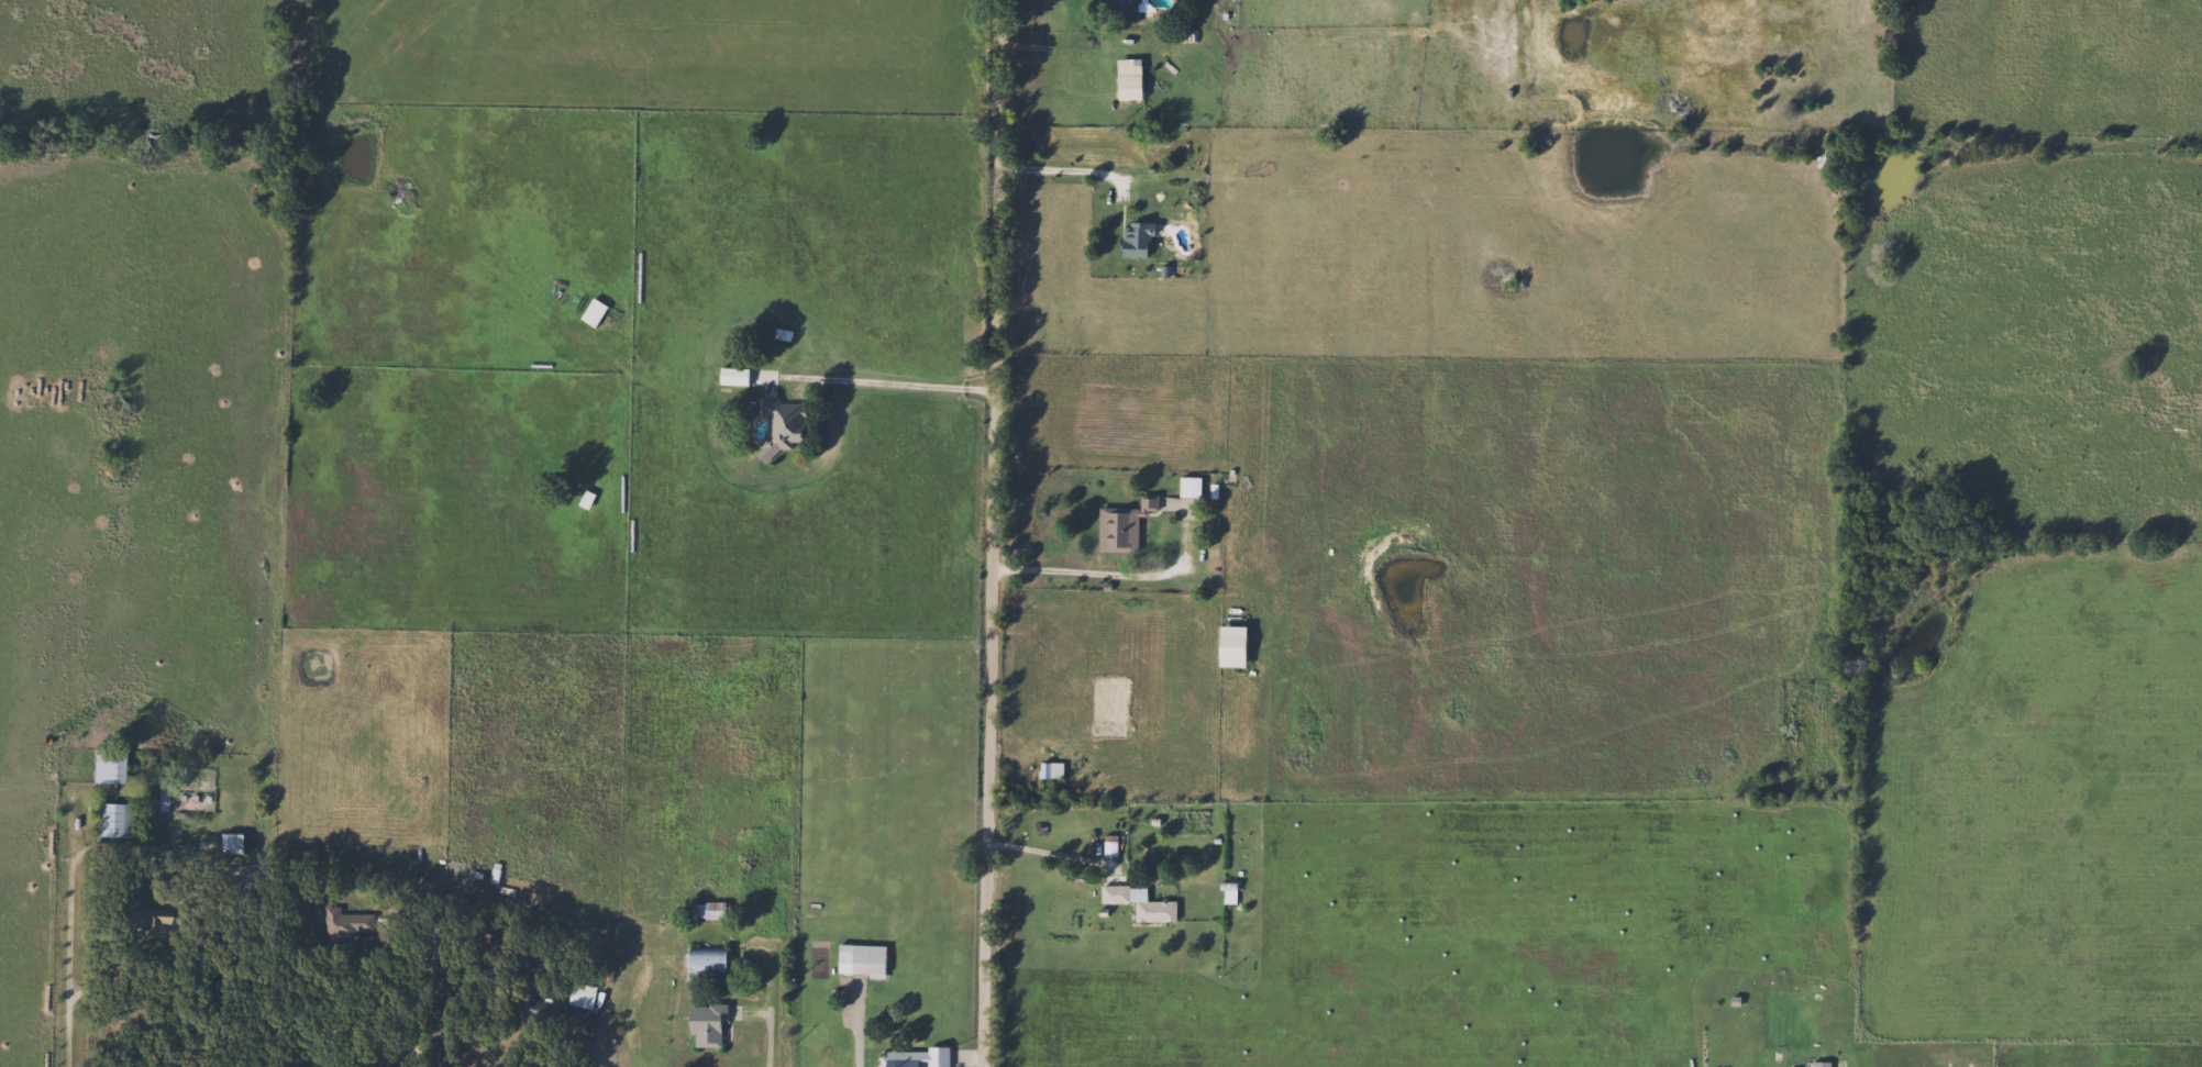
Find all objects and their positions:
road: (1059, 169)
building: (1135, 238)
building: (589, 312)
building: (729, 376)
road: (896, 386)
building: (779, 426)
building: (1186, 488)
building: (1118, 526)
road: (995, 533)
road: (1103, 568)
building: (102, 766)
building: (1047, 770)
building: (158, 798)
building: (110, 820)
building: (223, 842)
building: (1106, 846)
road: (1044, 856)
building: (1137, 903)
building: (704, 910)
building: (341, 922)
road: (75, 936)
building: (856, 959)
road: (420, 993)
building: (578, 994)
building: (535, 1009)
building: (702, 1023)
road: (855, 1029)
road: (767, 1041)
road: (562, 1045)
building: (912, 1057)
building: (1818, 1064)

